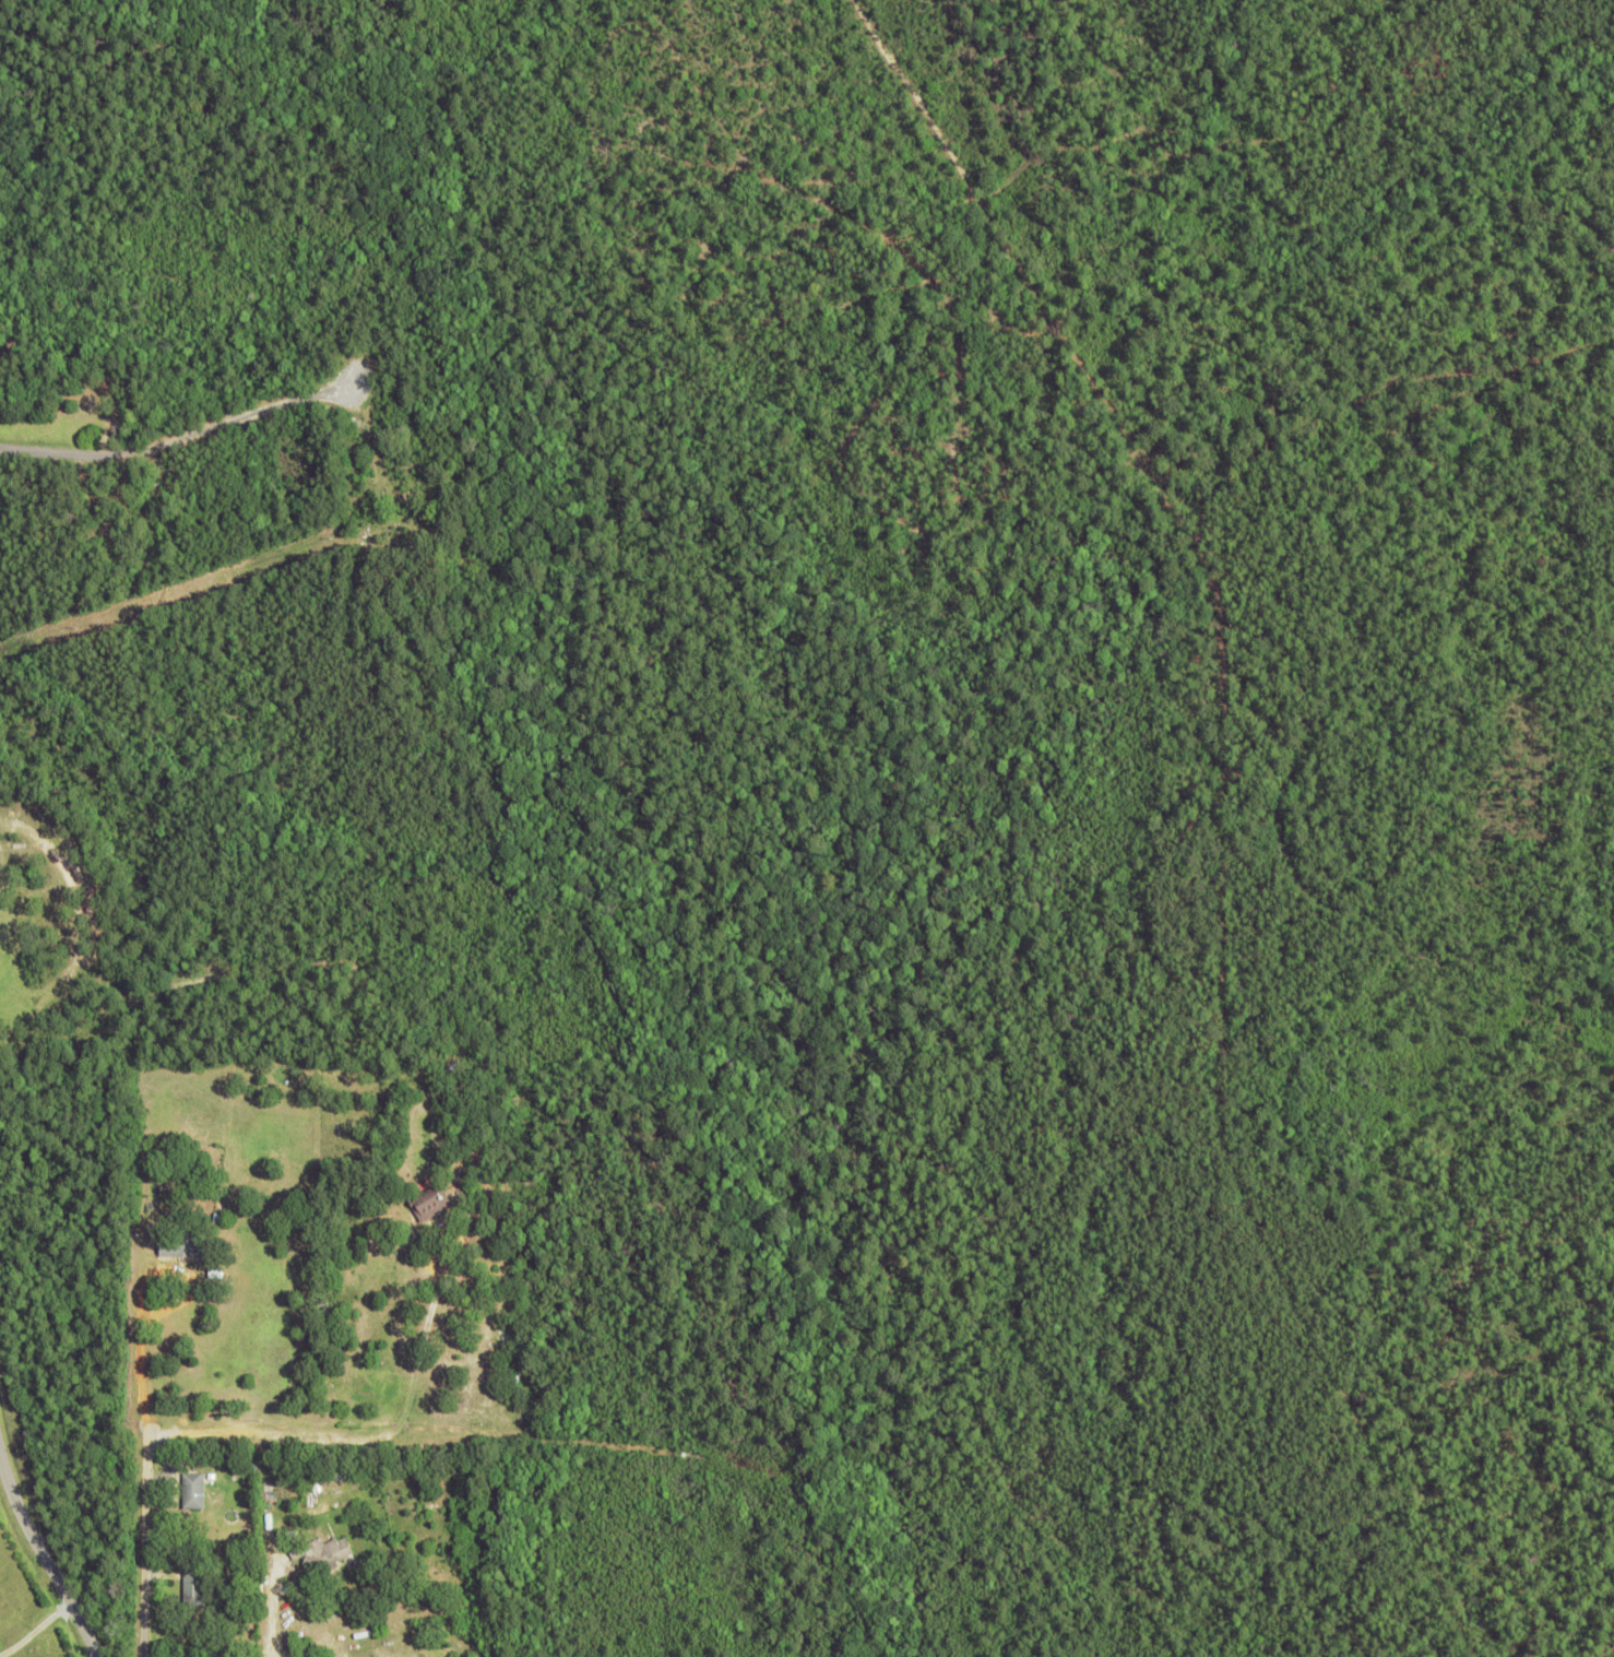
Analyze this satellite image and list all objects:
road: (251, 413)
building: (161, 490)
building: (405, 536)
building: (152, 546)
building: (344, 563)
road: (1226, 805)
building: (430, 1203)
building: (219, 1221)
building: (183, 1246)
building: (524, 1380)
road: (206, 1439)
building: (332, 1481)
building: (194, 1491)
building: (286, 1491)
building: (358, 1537)
building: (322, 1553)
road: (47, 1557)
building: (195, 1589)
building: (371, 1649)

